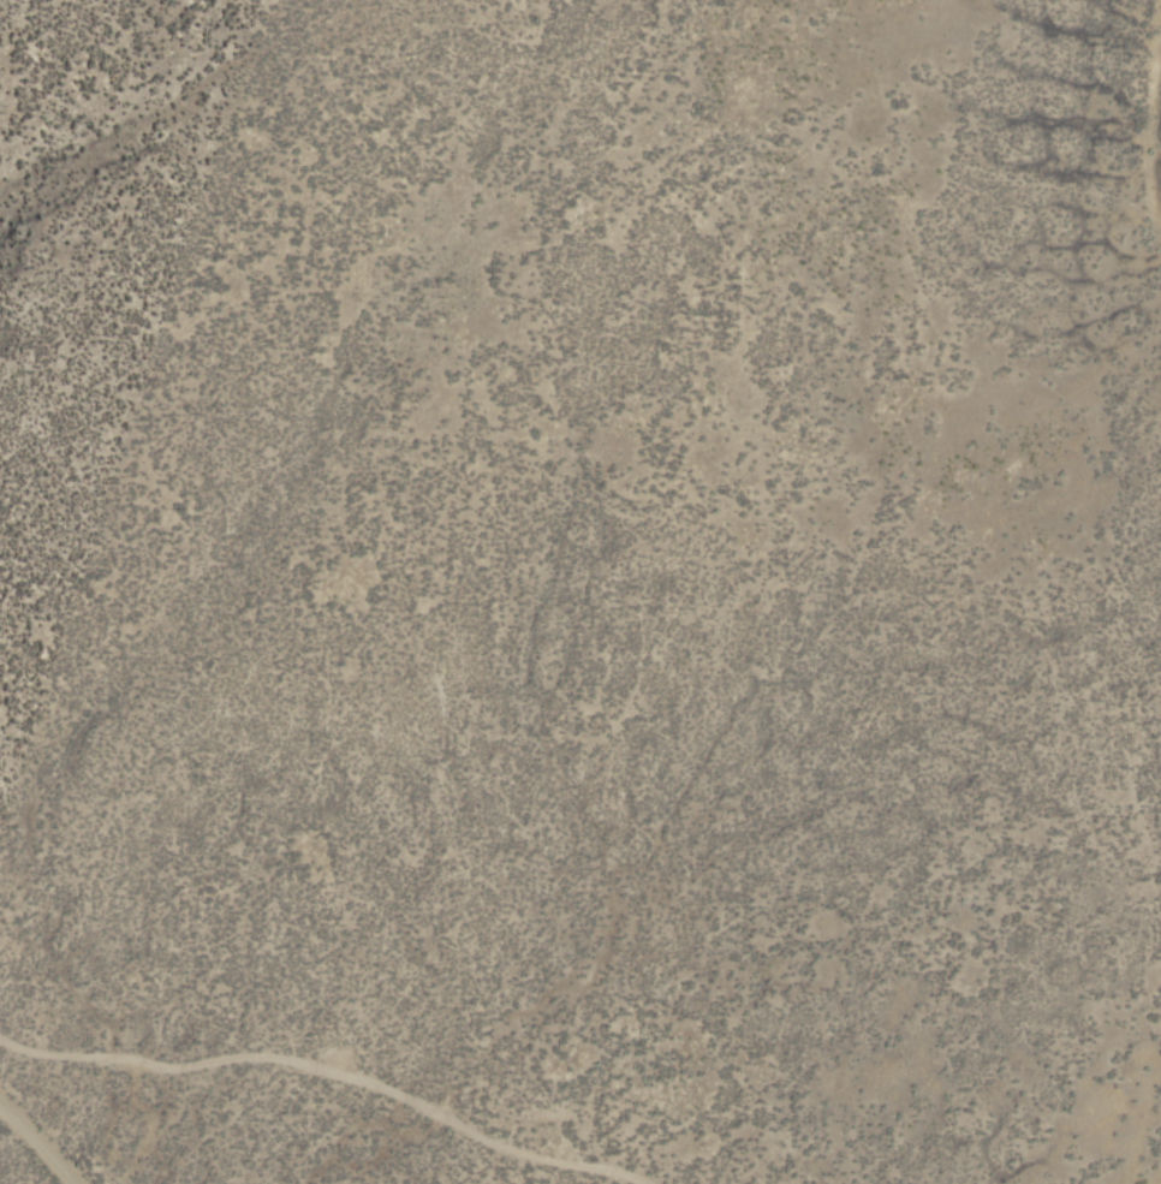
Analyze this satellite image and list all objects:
road: (332, 1071)
road: (40, 1141)

